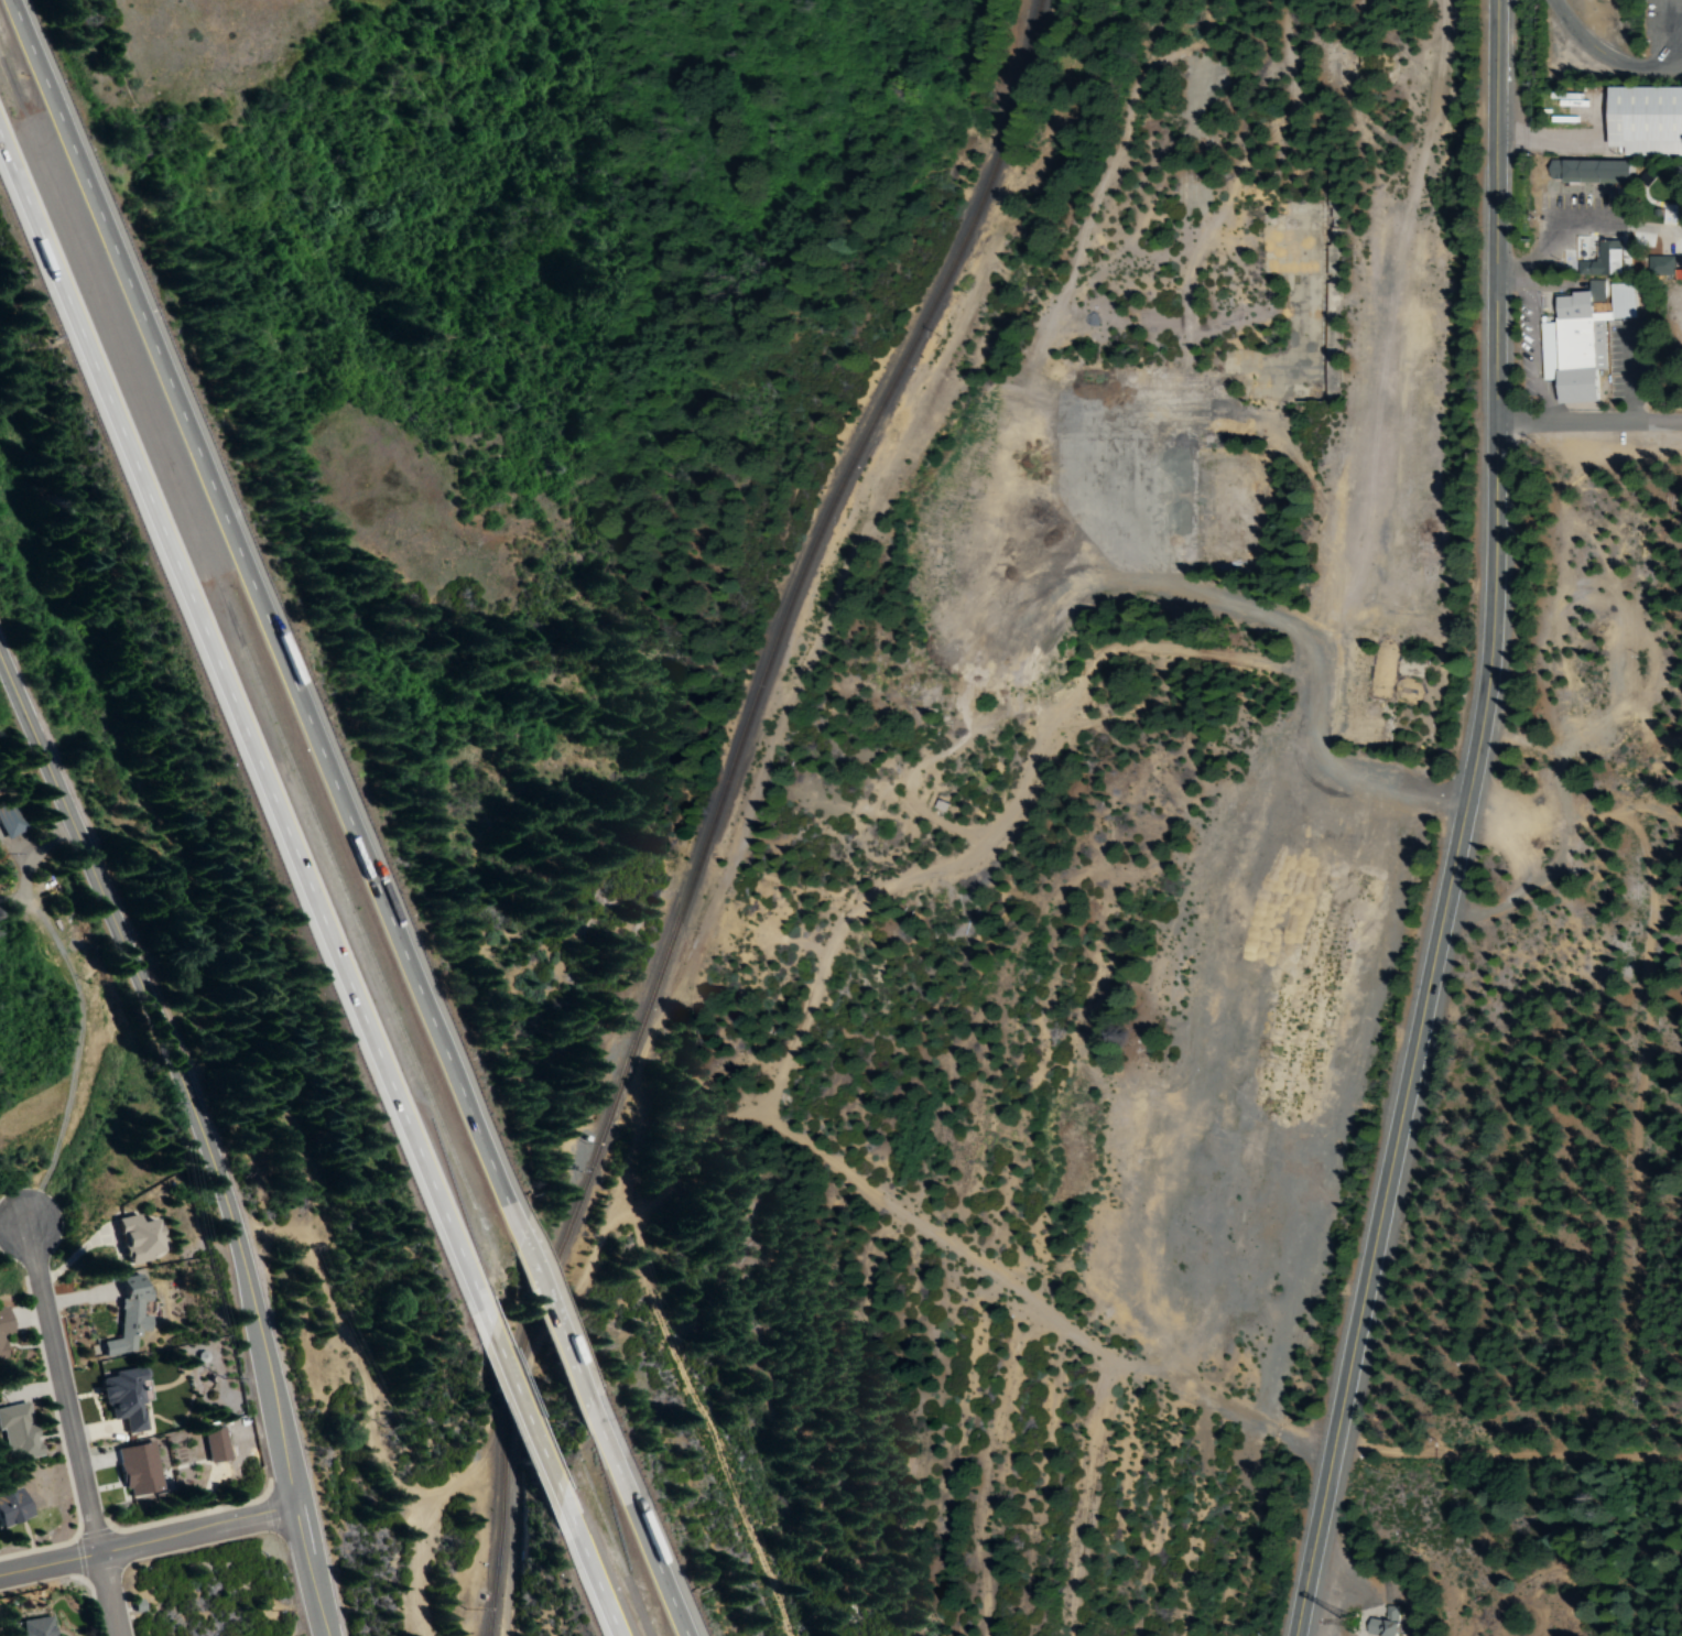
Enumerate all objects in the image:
road: (1610, 53)
building: (1650, 121)
building: (1594, 172)
building: (1602, 261)
building: (1658, 268)
building: (1584, 340)
road: (1587, 419)
road: (259, 596)
road: (236, 704)
railway: (717, 803)
building: (10, 817)
road: (1456, 825)
road: (205, 1124)
building: (132, 1238)
building: (128, 1315)
building: (2, 1322)
road: (567, 1348)
building: (1, 1355)
building: (120, 1397)
road: (522, 1410)
road: (78, 1429)
building: (14, 1432)
building: (213, 1444)
building: (135, 1469)
building: (8, 1506)
road: (145, 1546)
road: (661, 1569)
road: (598, 1581)
building: (1383, 1624)
building: (30, 1627)

